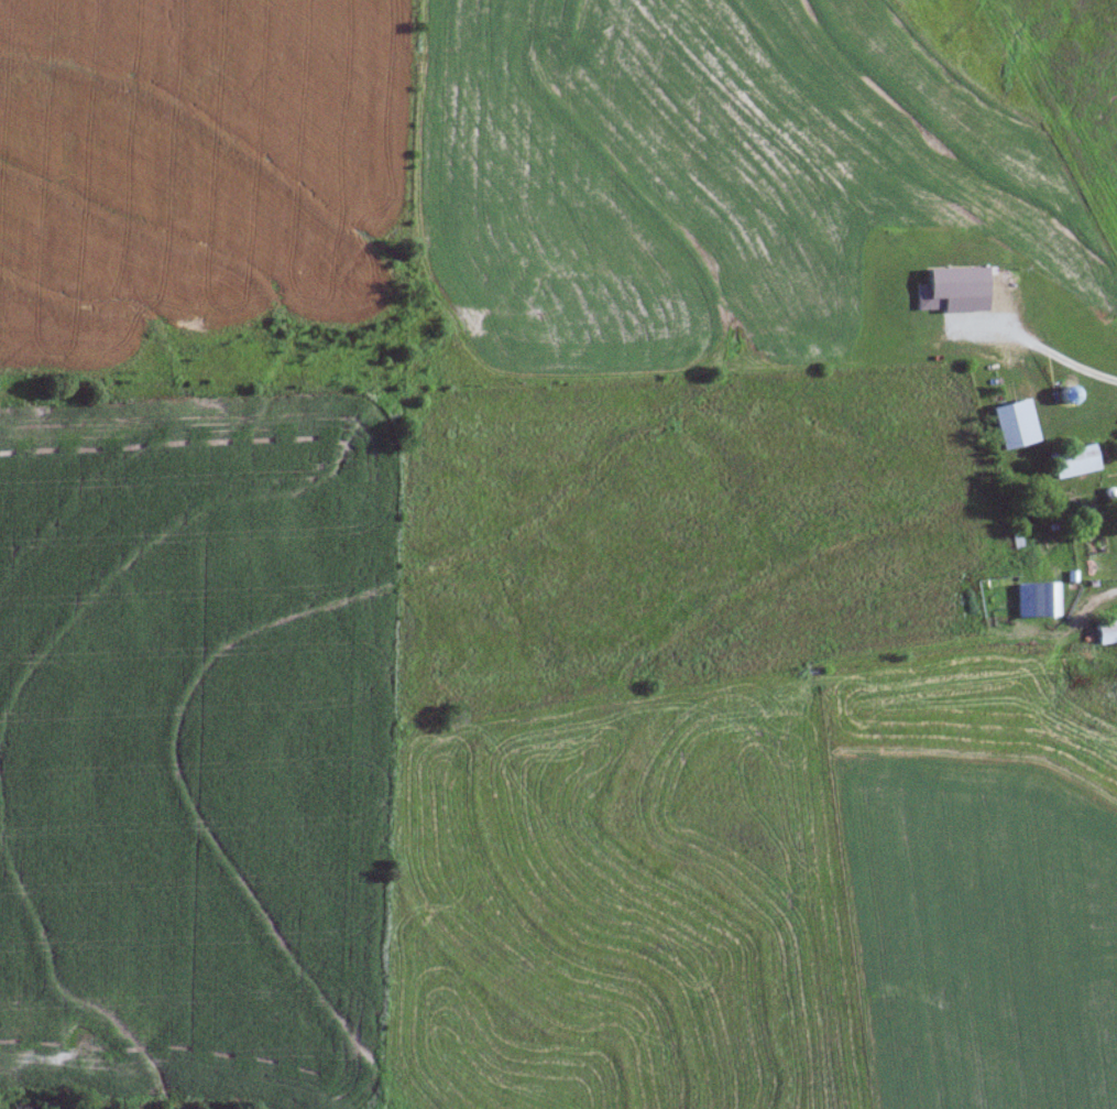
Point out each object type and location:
building: (1015, 426)
building: (1073, 463)
building: (1036, 601)
building: (1106, 632)

